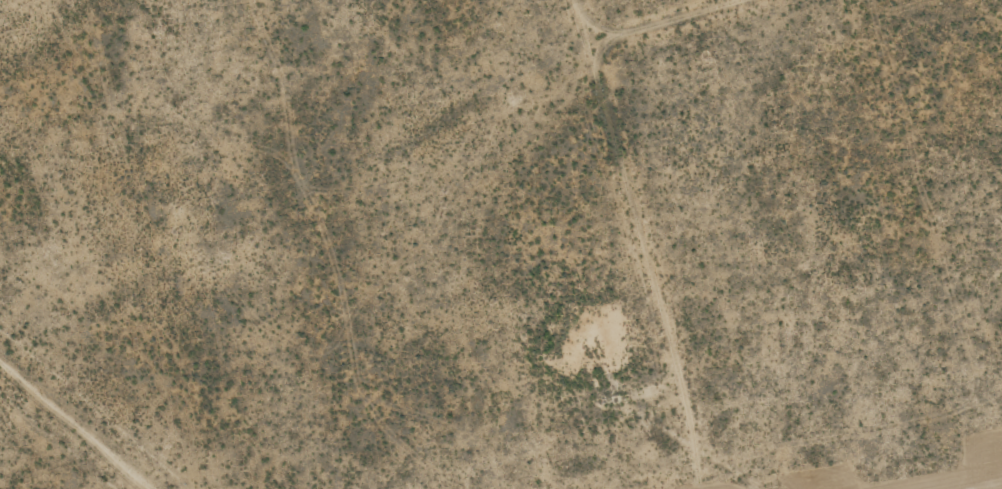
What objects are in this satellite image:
road: (736, 44)

